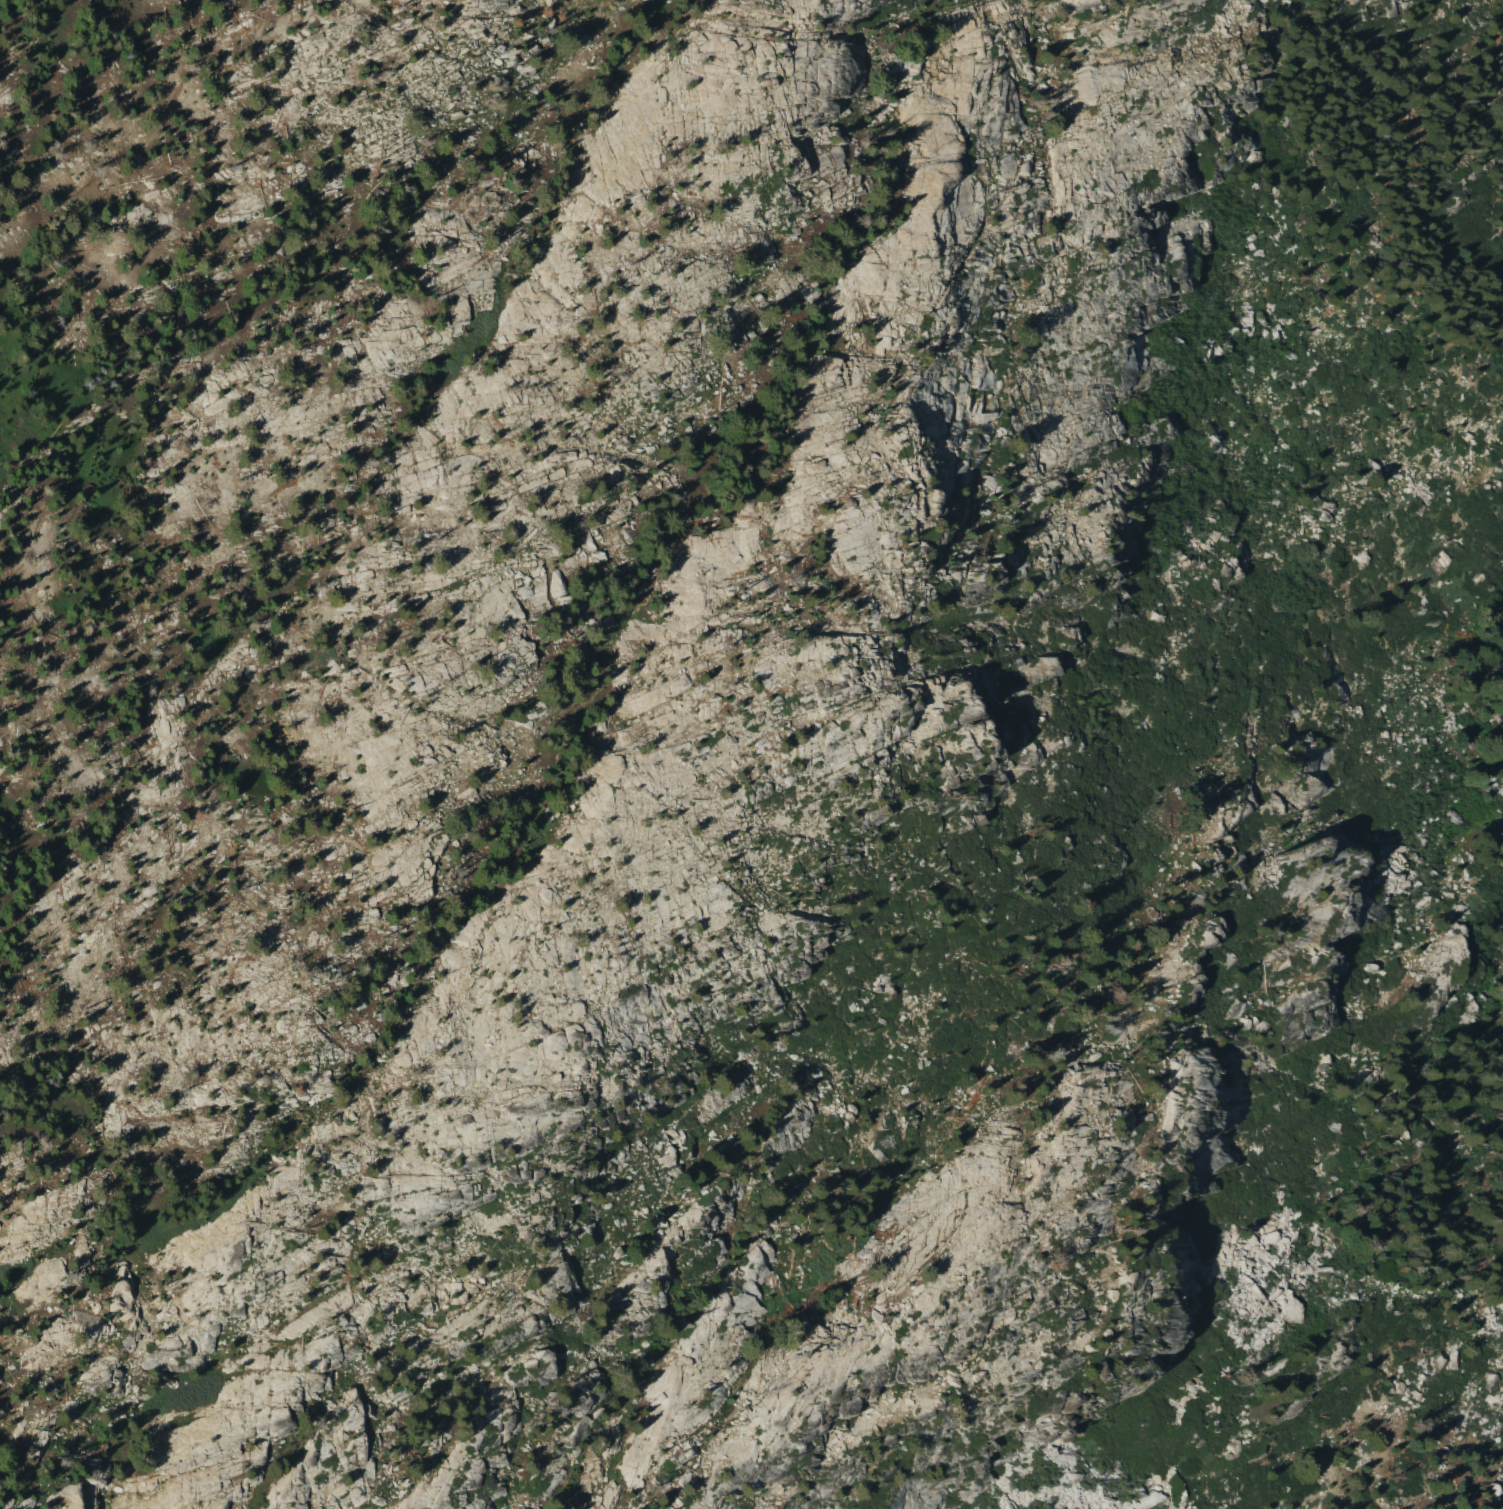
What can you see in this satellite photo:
road: (81, 178)

